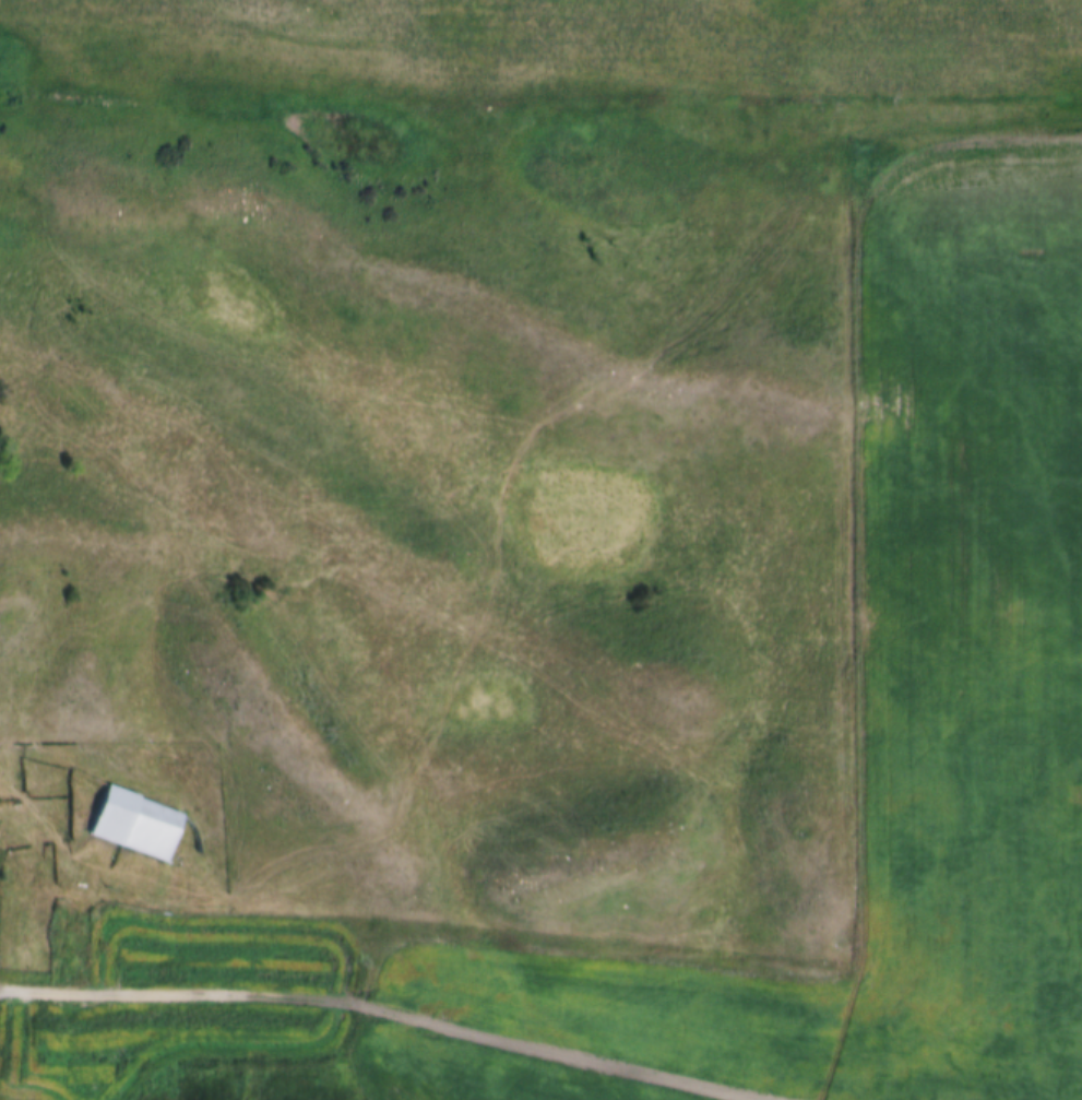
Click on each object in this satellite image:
building: (130, 813)

